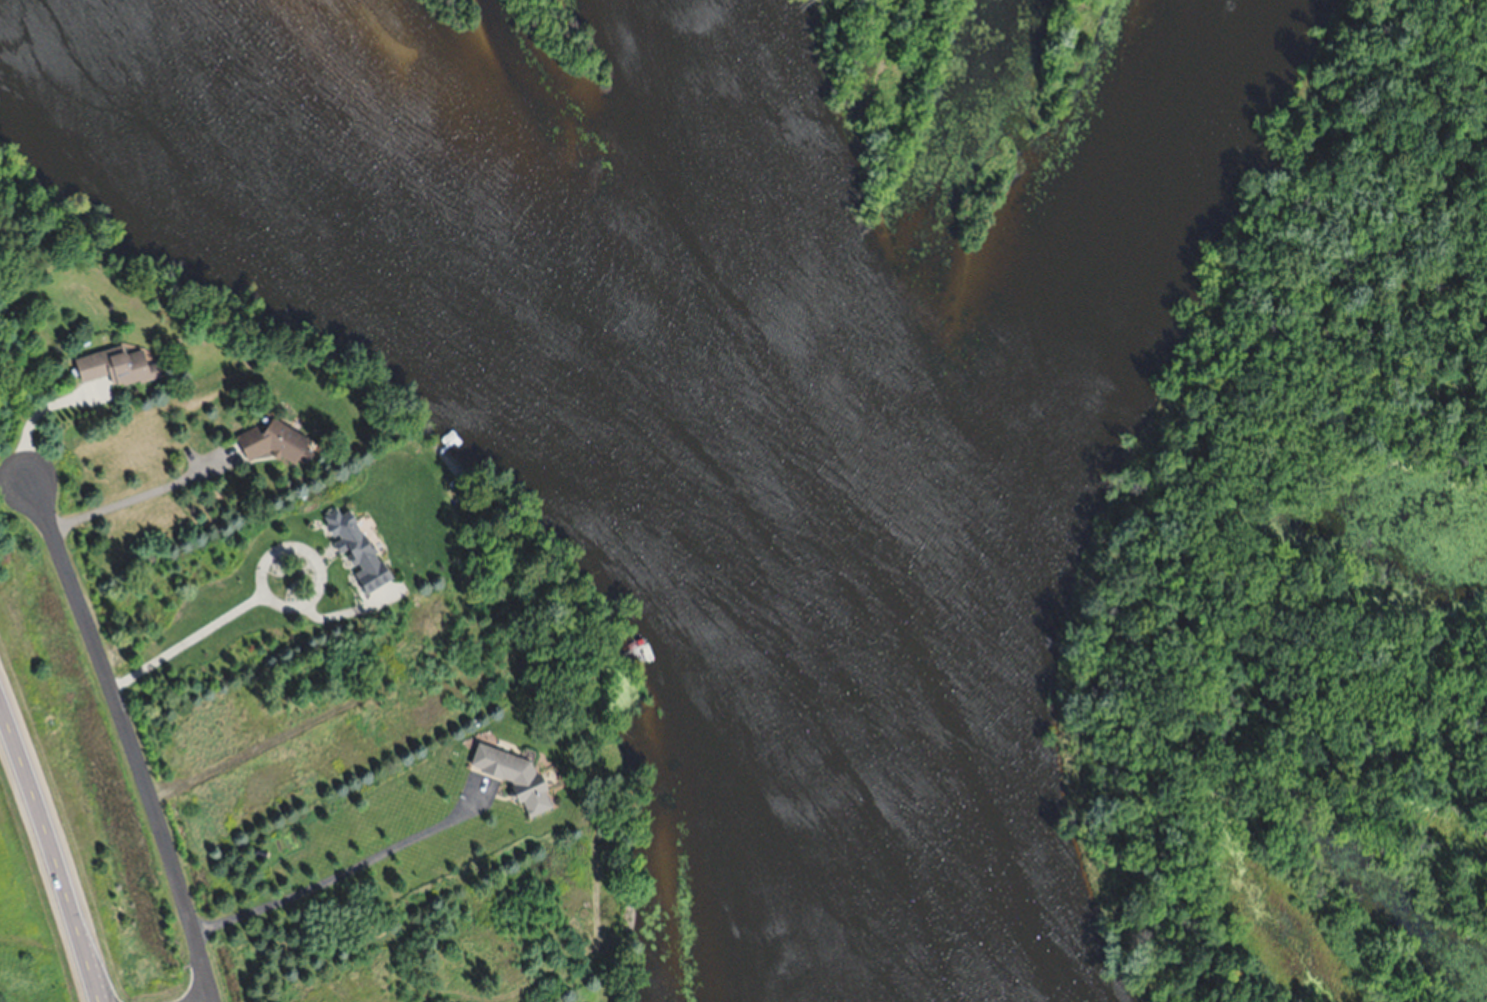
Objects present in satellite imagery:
building: (117, 365)
river: (734, 426)
building: (274, 439)
road: (37, 440)
building: (358, 547)
road: (125, 730)
road: (53, 849)
road: (203, 1000)

